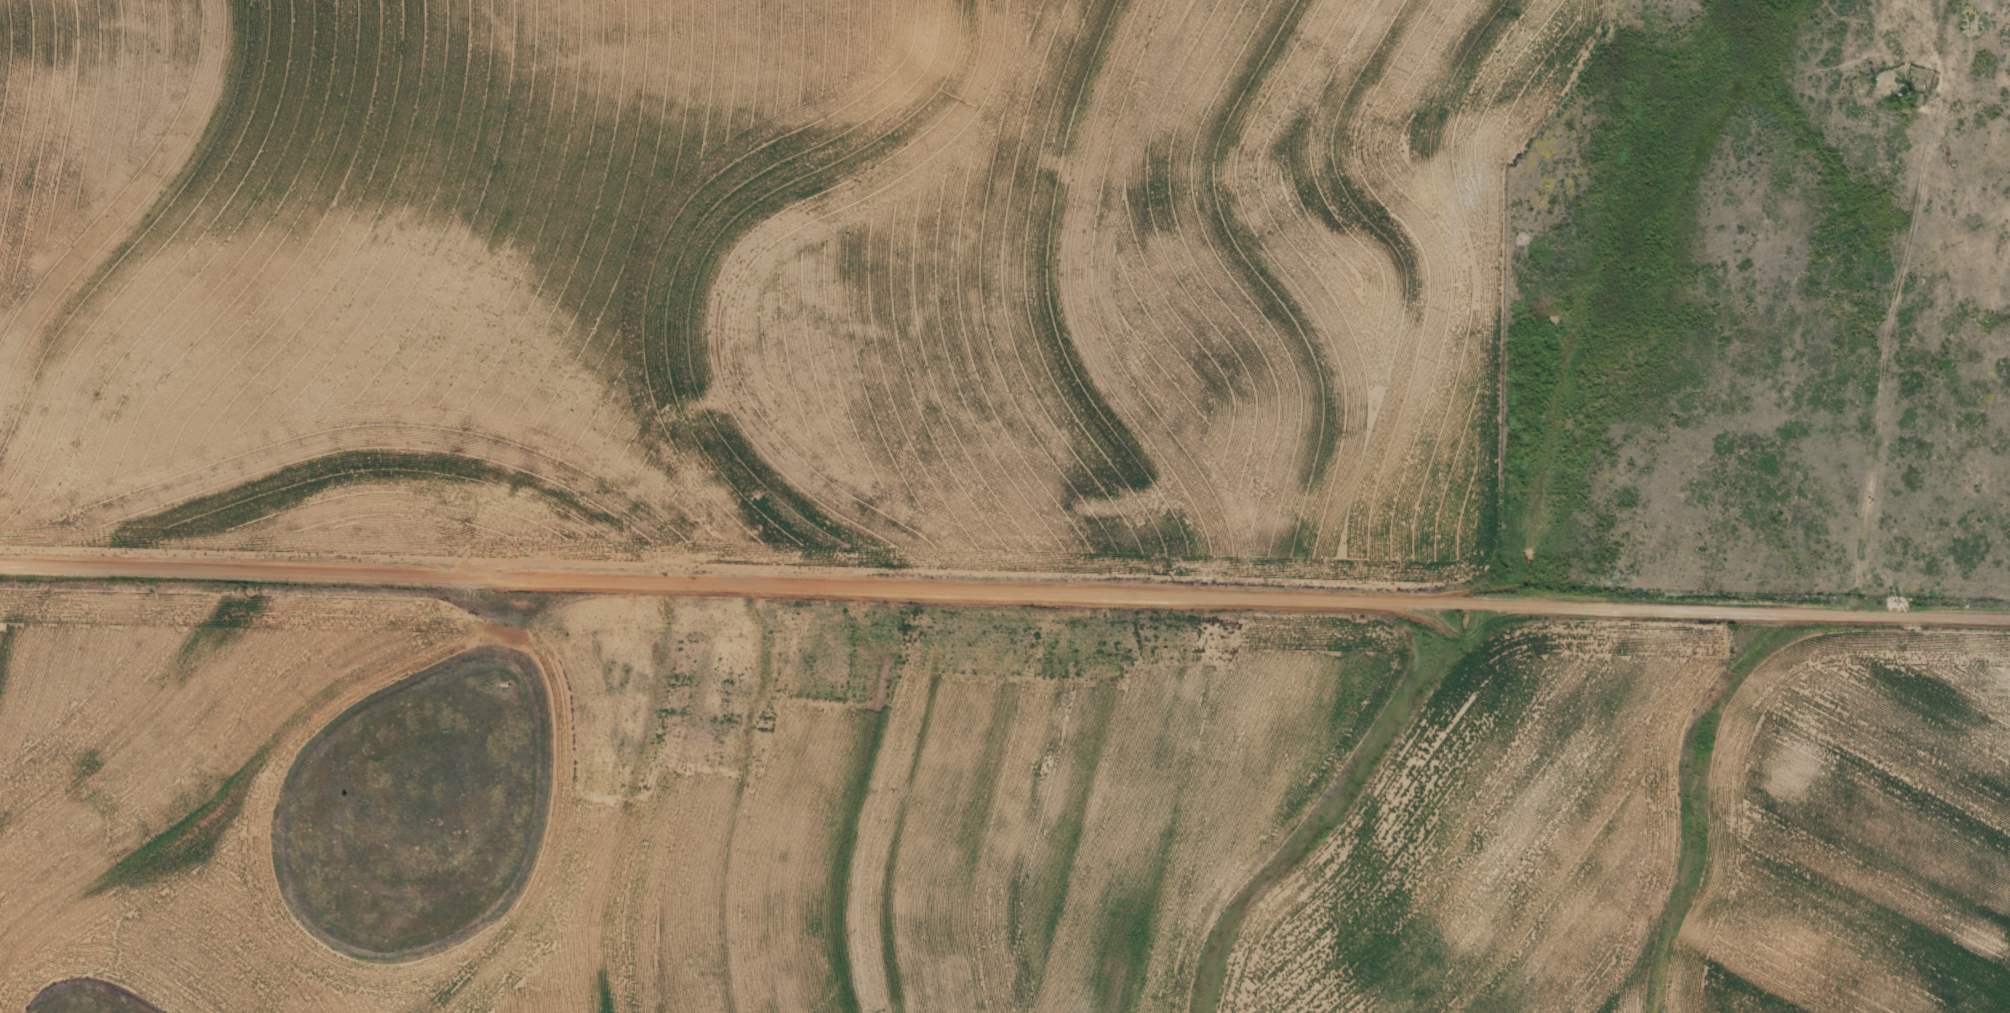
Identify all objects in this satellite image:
road: (1004, 592)

